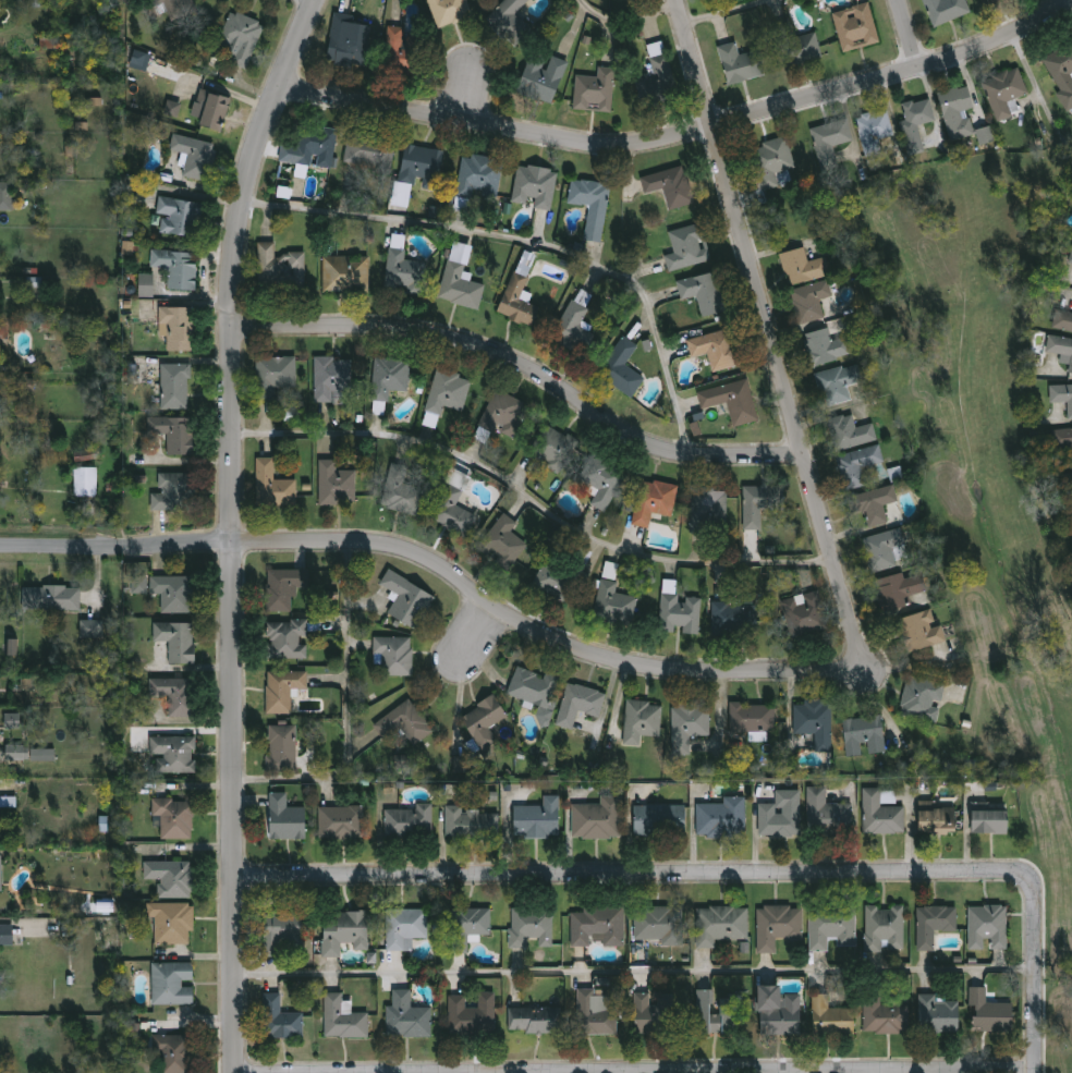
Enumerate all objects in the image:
building: (986, 1)
building: (173, 7)
building: (943, 10)
building: (448, 11)
road: (726, 12)
road: (628, 17)
building: (509, 21)
building: (855, 27)
building: (240, 37)
road: (911, 38)
building: (345, 41)
building: (48, 42)
building: (401, 48)
building: (799, 48)
building: (141, 60)
building: (740, 62)
building: (658, 65)
building: (1062, 72)
building: (540, 77)
building: (594, 89)
building: (1004, 90)
building: (172, 108)
building: (212, 109)
building: (957, 111)
building: (914, 121)
building: (873, 130)
building: (985, 135)
road: (682, 136)
building: (829, 141)
building: (315, 146)
building: (368, 151)
building: (194, 155)
building: (773, 159)
building: (416, 169)
building: (478, 175)
building: (669, 185)
building: (534, 186)
building: (7, 197)
building: (590, 205)
building: (179, 216)
road: (527, 241)
building: (127, 247)
building: (686, 247)
building: (1070, 258)
road: (228, 261)
building: (176, 267)
building: (279, 267)
building: (801, 267)
building: (403, 269)
building: (344, 273)
building: (460, 278)
building: (146, 285)
building: (34, 286)
building: (698, 292)
building: (516, 301)
building: (808, 301)
building: (1062, 320)
building: (175, 327)
building: (572, 327)
road: (765, 336)
building: (824, 346)
building: (1060, 347)
building: (717, 349)
building: (621, 368)
road: (524, 370)
building: (272, 375)
building: (388, 376)
building: (333, 378)
building: (23, 383)
building: (837, 383)
building: (173, 386)
building: (447, 391)
building: (1061, 395)
building: (730, 401)
building: (502, 413)
park: (979, 413)
building: (173, 432)
building: (849, 432)
building: (1061, 438)
park: (985, 446)
building: (550, 448)
building: (86, 454)
building: (856, 466)
building: (601, 479)
building: (85, 480)
building: (1067, 481)
building: (334, 484)
building: (272, 485)
building: (173, 491)
building: (401, 491)
road: (529, 500)
building: (870, 500)
building: (653, 501)
building: (756, 504)
building: (708, 508)
building: (451, 511)
building: (501, 542)
building: (885, 549)
road: (441, 565)
building: (557, 578)
building: (139, 584)
building: (283, 588)
building: (897, 592)
building: (174, 593)
building: (49, 597)
building: (406, 600)
building: (613, 602)
building: (803, 612)
building: (680, 613)
building: (734, 618)
building: (92, 627)
building: (921, 630)
road: (473, 631)
building: (287, 639)
building: (176, 641)
building: (393, 655)
road: (919, 664)
building: (25, 682)
building: (533, 687)
building: (282, 690)
building: (173, 695)
building: (922, 698)
building: (582, 706)
road: (338, 710)
building: (130, 715)
building: (483, 716)
building: (752, 717)
building: (12, 720)
building: (641, 720)
building: (813, 720)
building: (690, 721)
building: (402, 726)
building: (863, 734)
building: (281, 747)
building: (17, 753)
building: (172, 754)
building: (42, 755)
road: (230, 806)
building: (826, 814)
building: (880, 814)
building: (780, 815)
building: (174, 817)
building: (285, 818)
building: (597, 818)
building: (721, 818)
building: (537, 819)
building: (659, 820)
building: (937, 820)
building: (341, 821)
building: (409, 821)
building: (989, 821)
building: (471, 822)
building: (0, 874)
building: (171, 878)
road: (726, 883)
park: (1056, 888)
building: (171, 922)
building: (658, 924)
building: (719, 924)
building: (933, 924)
building: (596, 925)
building: (777, 925)
building: (468, 926)
building: (529, 926)
building: (831, 926)
building: (404, 927)
building: (884, 927)
building: (987, 927)
building: (343, 931)
building: (7, 934)
building: (283, 934)
road: (634, 971)
building: (172, 983)
building: (656, 1011)
building: (778, 1011)
building: (987, 1011)
building: (595, 1012)
building: (938, 1013)
building: (471, 1014)
building: (716, 1014)
building: (406, 1016)
building: (830, 1016)
building: (885, 1016)
building: (342, 1017)
building: (279, 1019)
building: (533, 1020)
building: (134, 1028)
building: (173, 1053)

